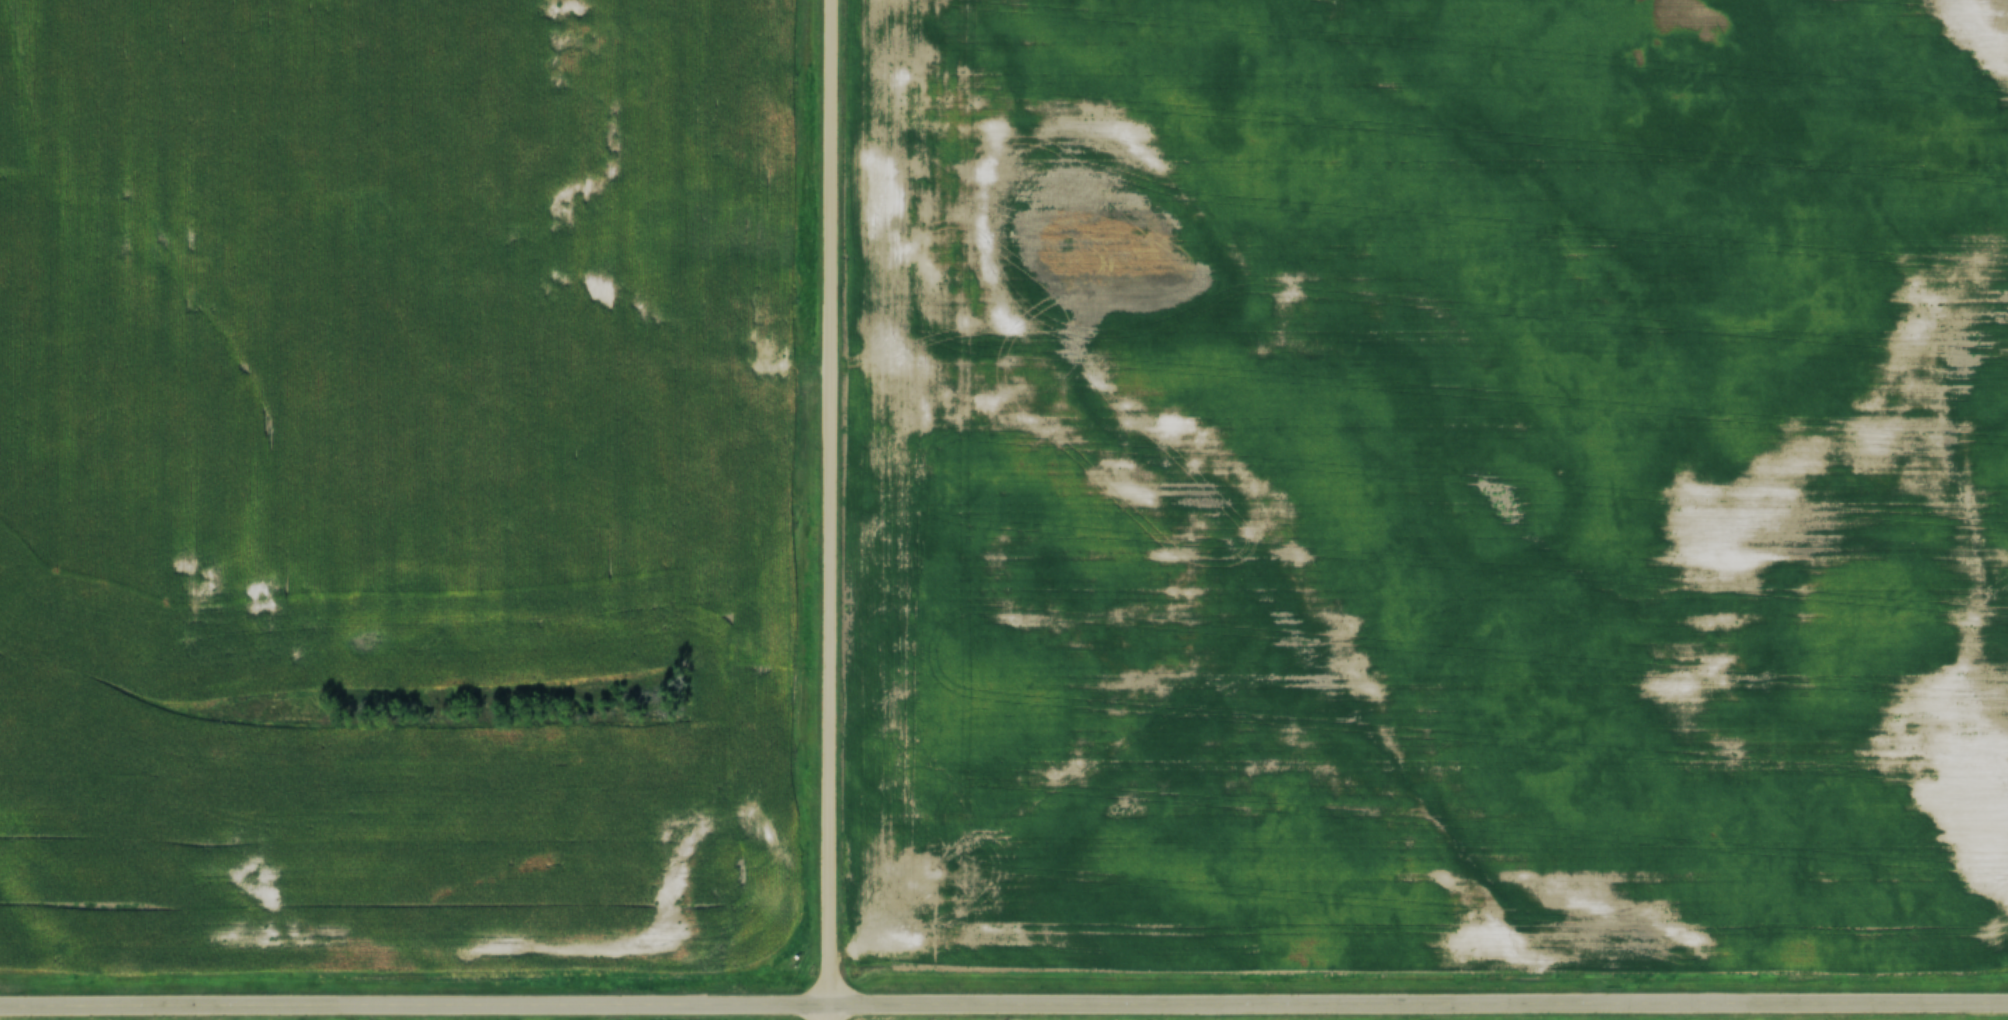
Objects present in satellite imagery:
road: (830, 510)
road: (1003, 1002)

